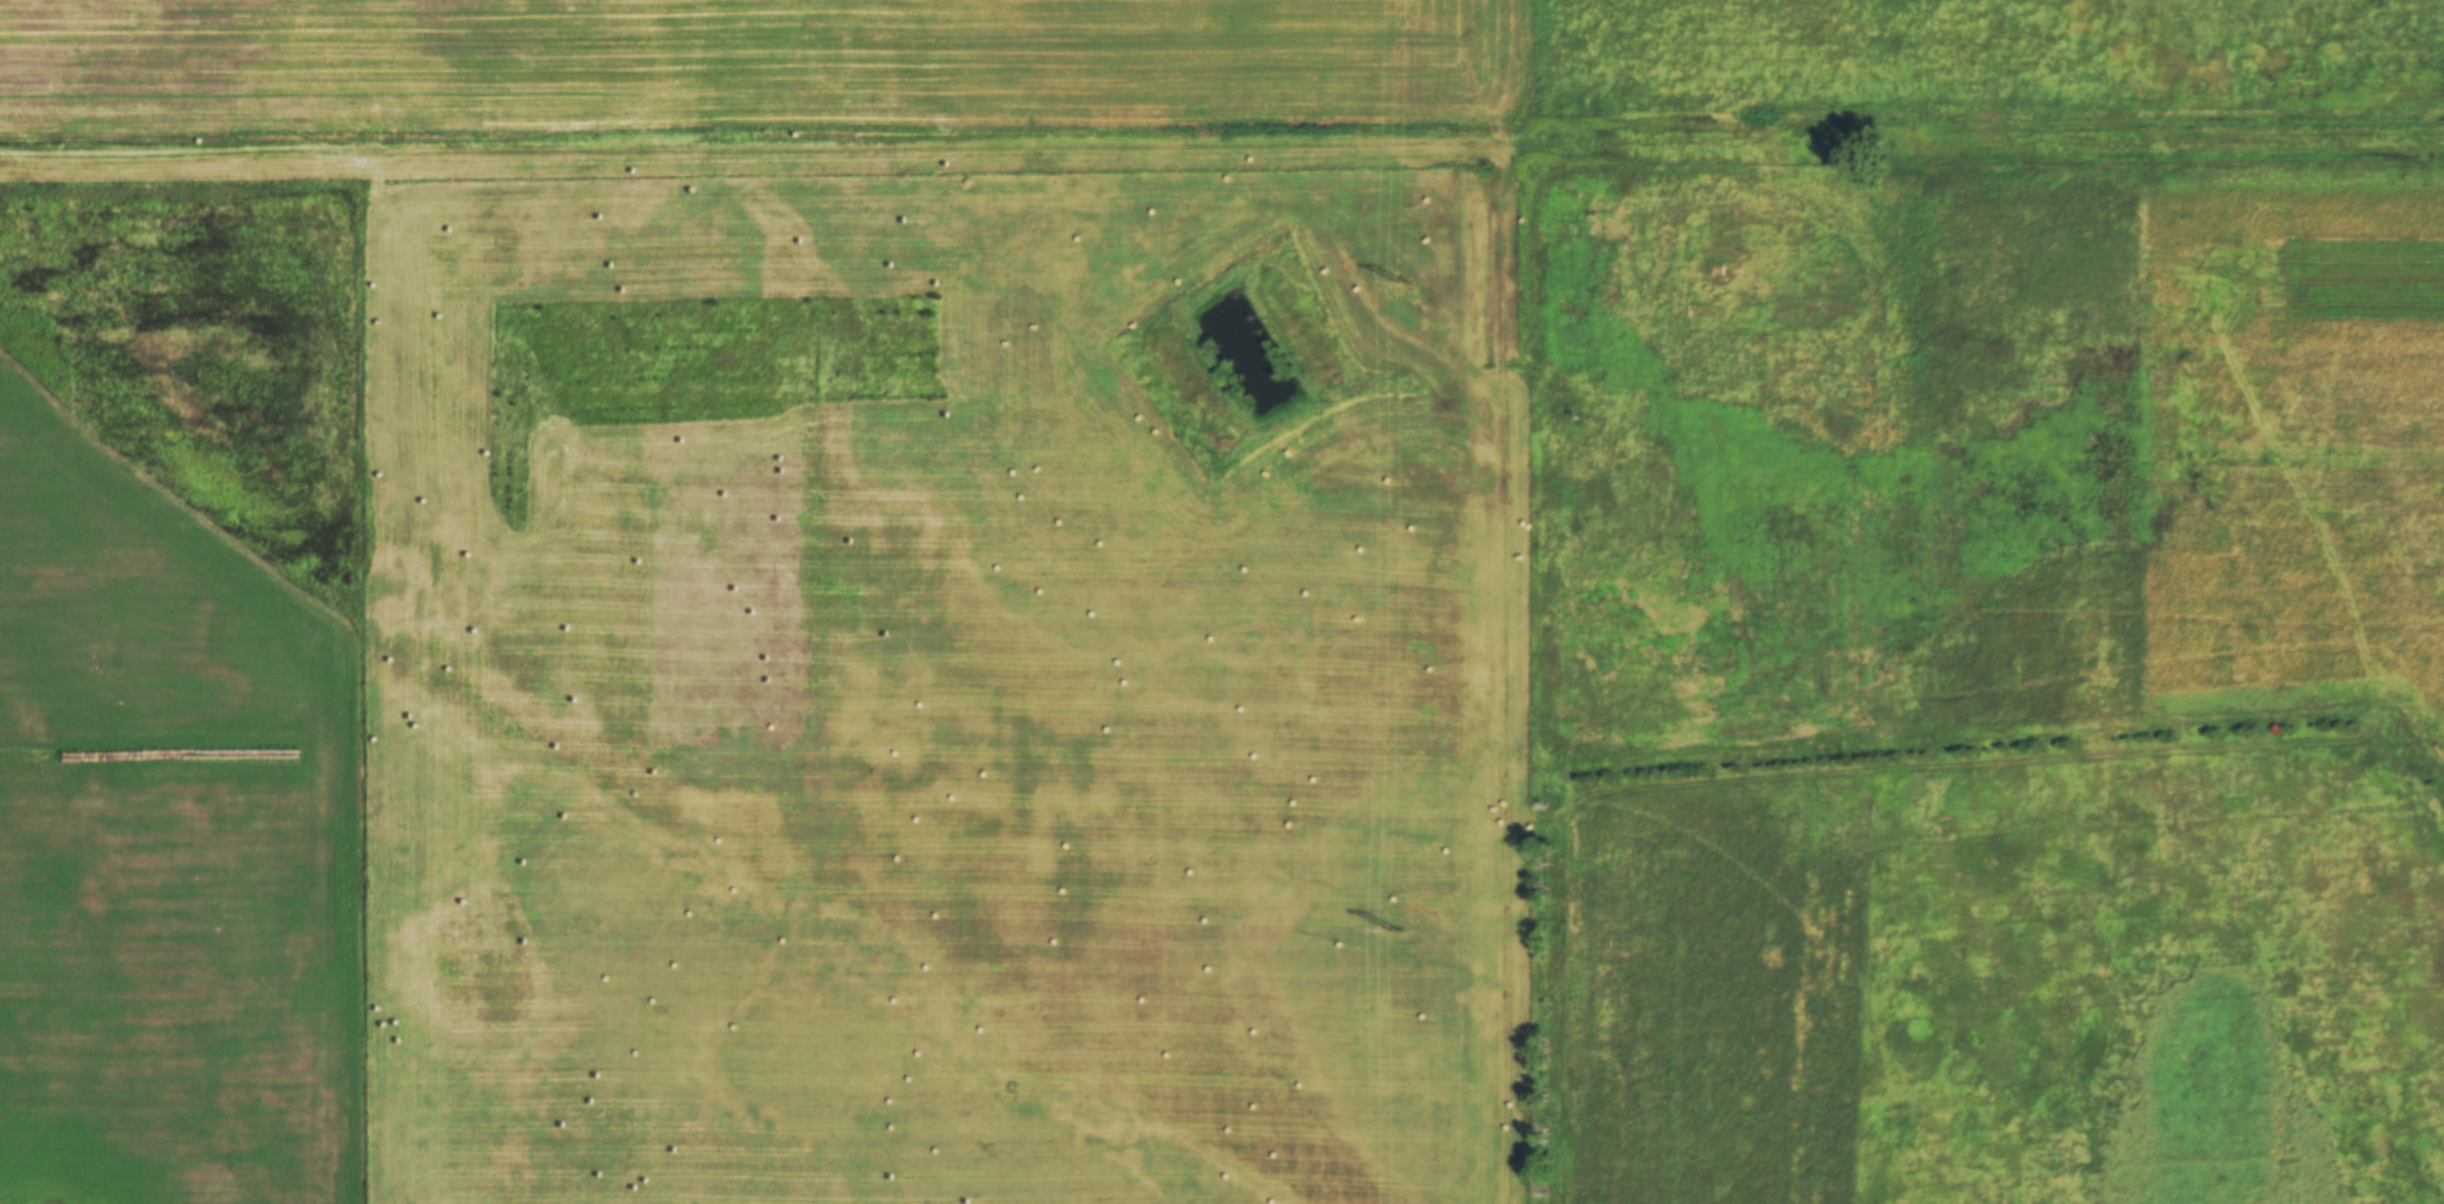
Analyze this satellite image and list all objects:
road: (1964, 157)
road: (742, 160)
power tower: (1404, 282)
road: (1493, 601)
power tower: (1395, 930)

